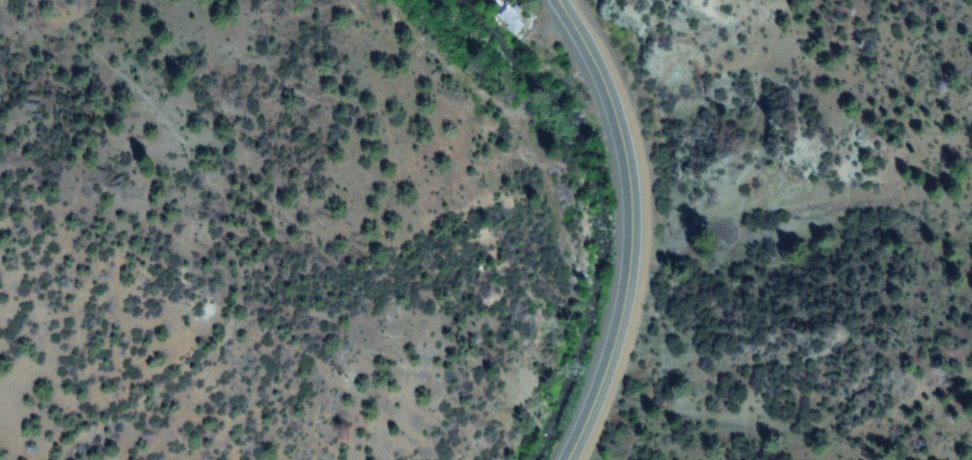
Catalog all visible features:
road: (631, 226)

